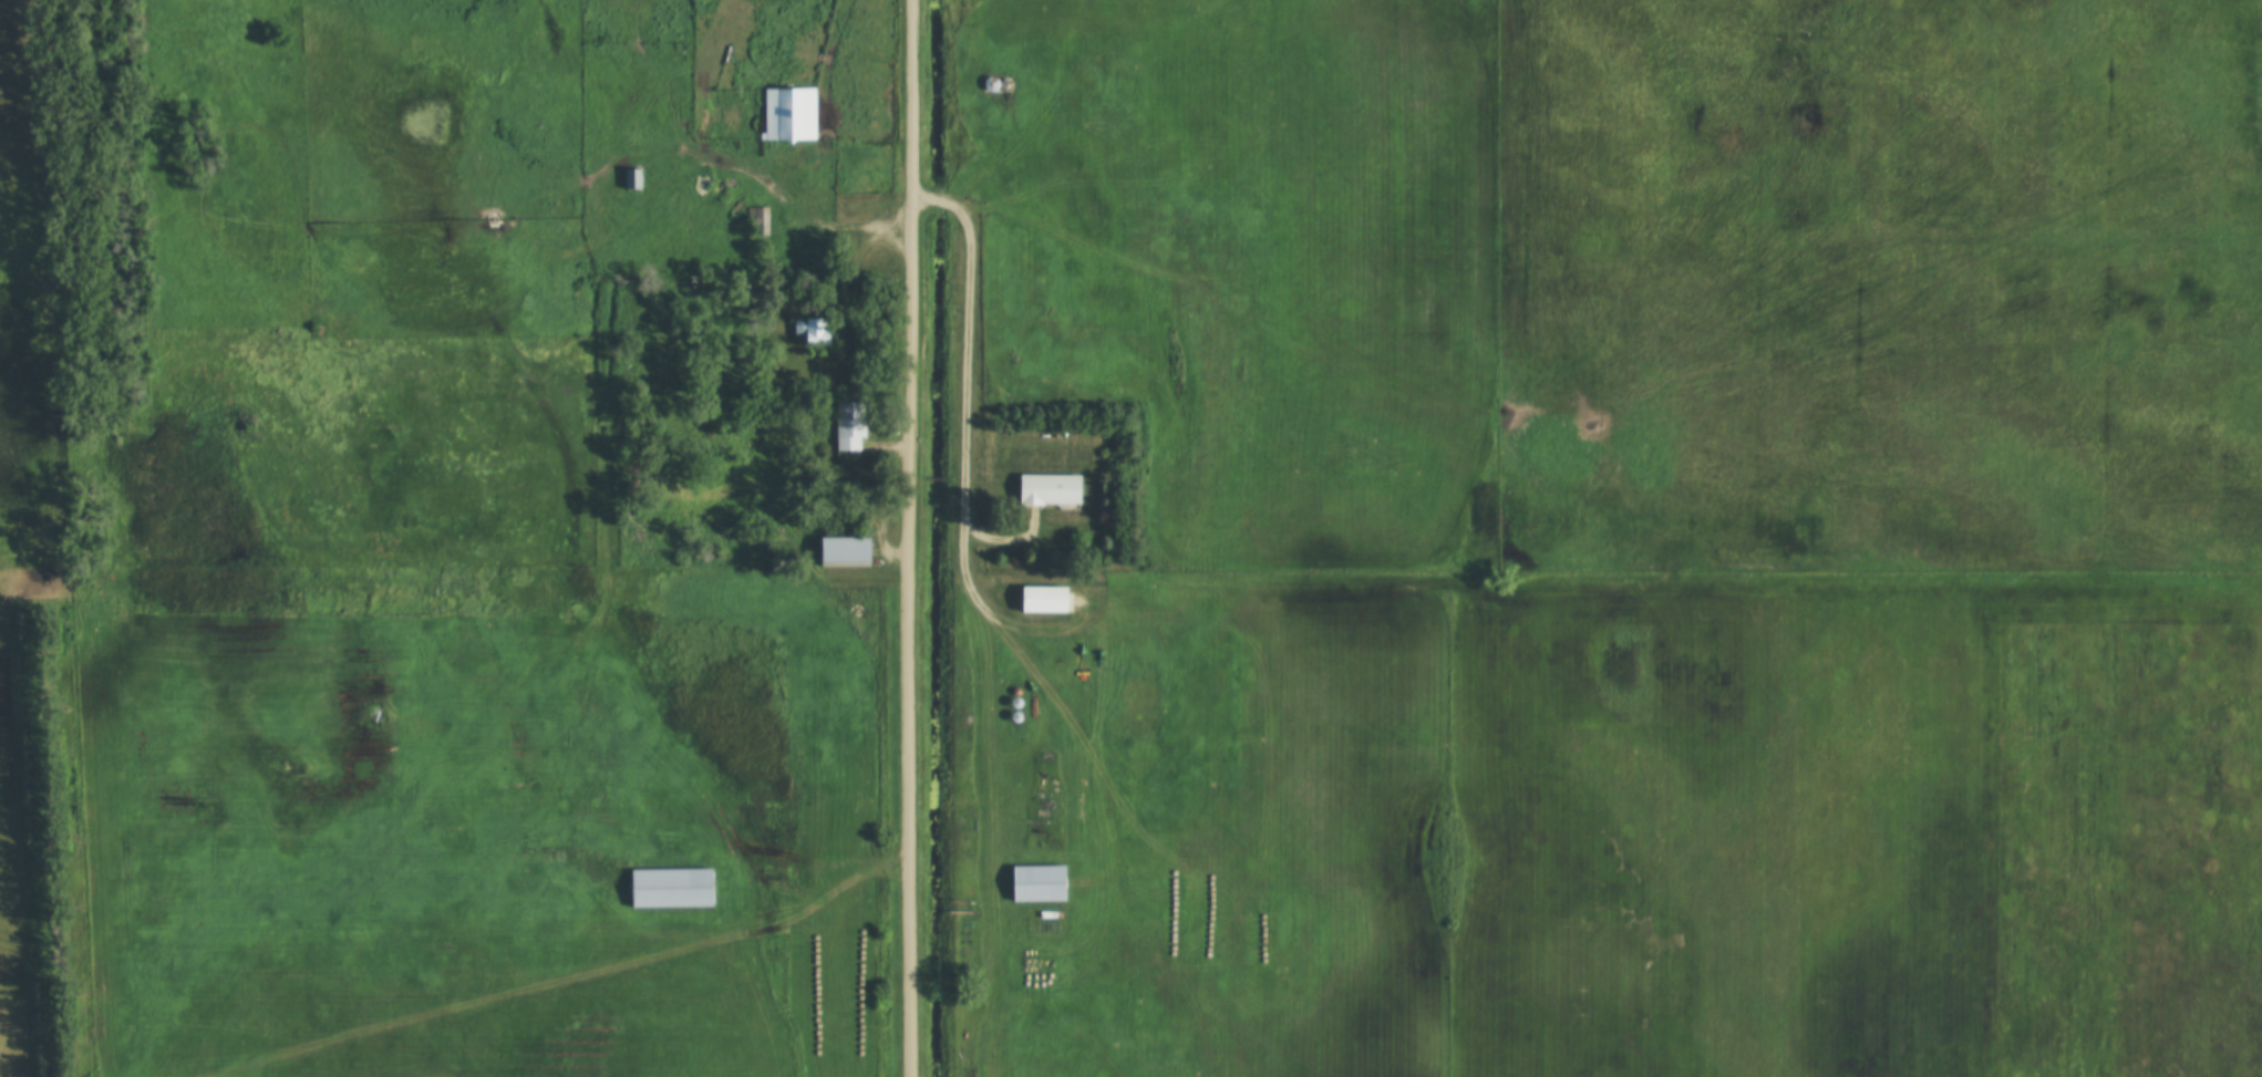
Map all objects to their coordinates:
building: (183, 60)
building: (985, 82)
silo: (985, 82)
building: (1001, 82)
silo: (1001, 82)
building: (786, 112)
building: (630, 177)
building: (729, 187)
road: (920, 197)
road: (937, 198)
road: (789, 200)
building: (757, 219)
road: (895, 229)
road: (855, 256)
building: (804, 329)
road: (965, 405)
building: (847, 424)
road: (896, 445)
road: (915, 479)
road: (936, 479)
road: (958, 480)
building: (1043, 486)
road: (908, 538)
road: (1006, 540)
building: (844, 551)
building: (1042, 599)
road: (1111, 826)
building: (1037, 882)
building: (673, 888)
road: (578, 980)

